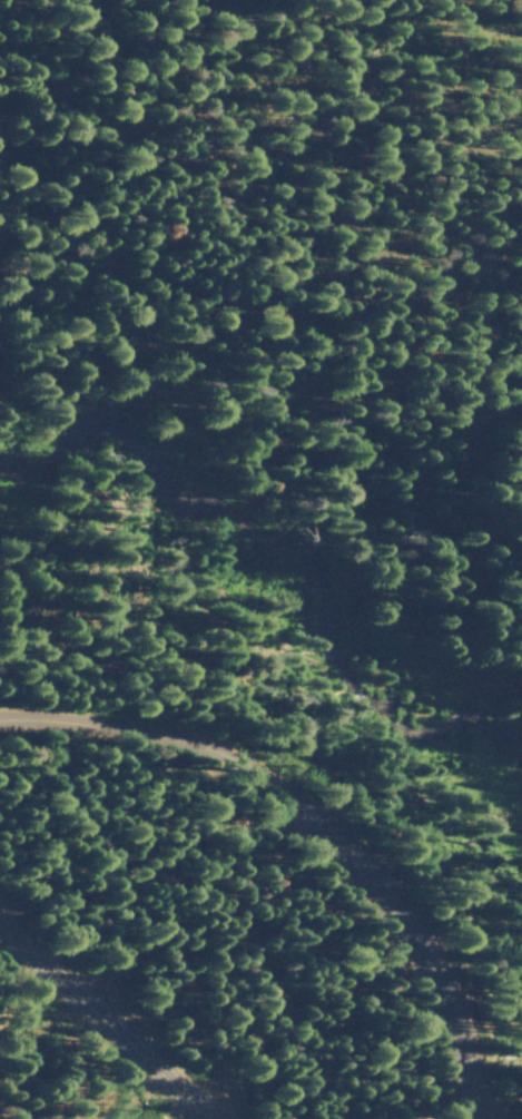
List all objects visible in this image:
road: (311, 830)
road: (105, 1024)

